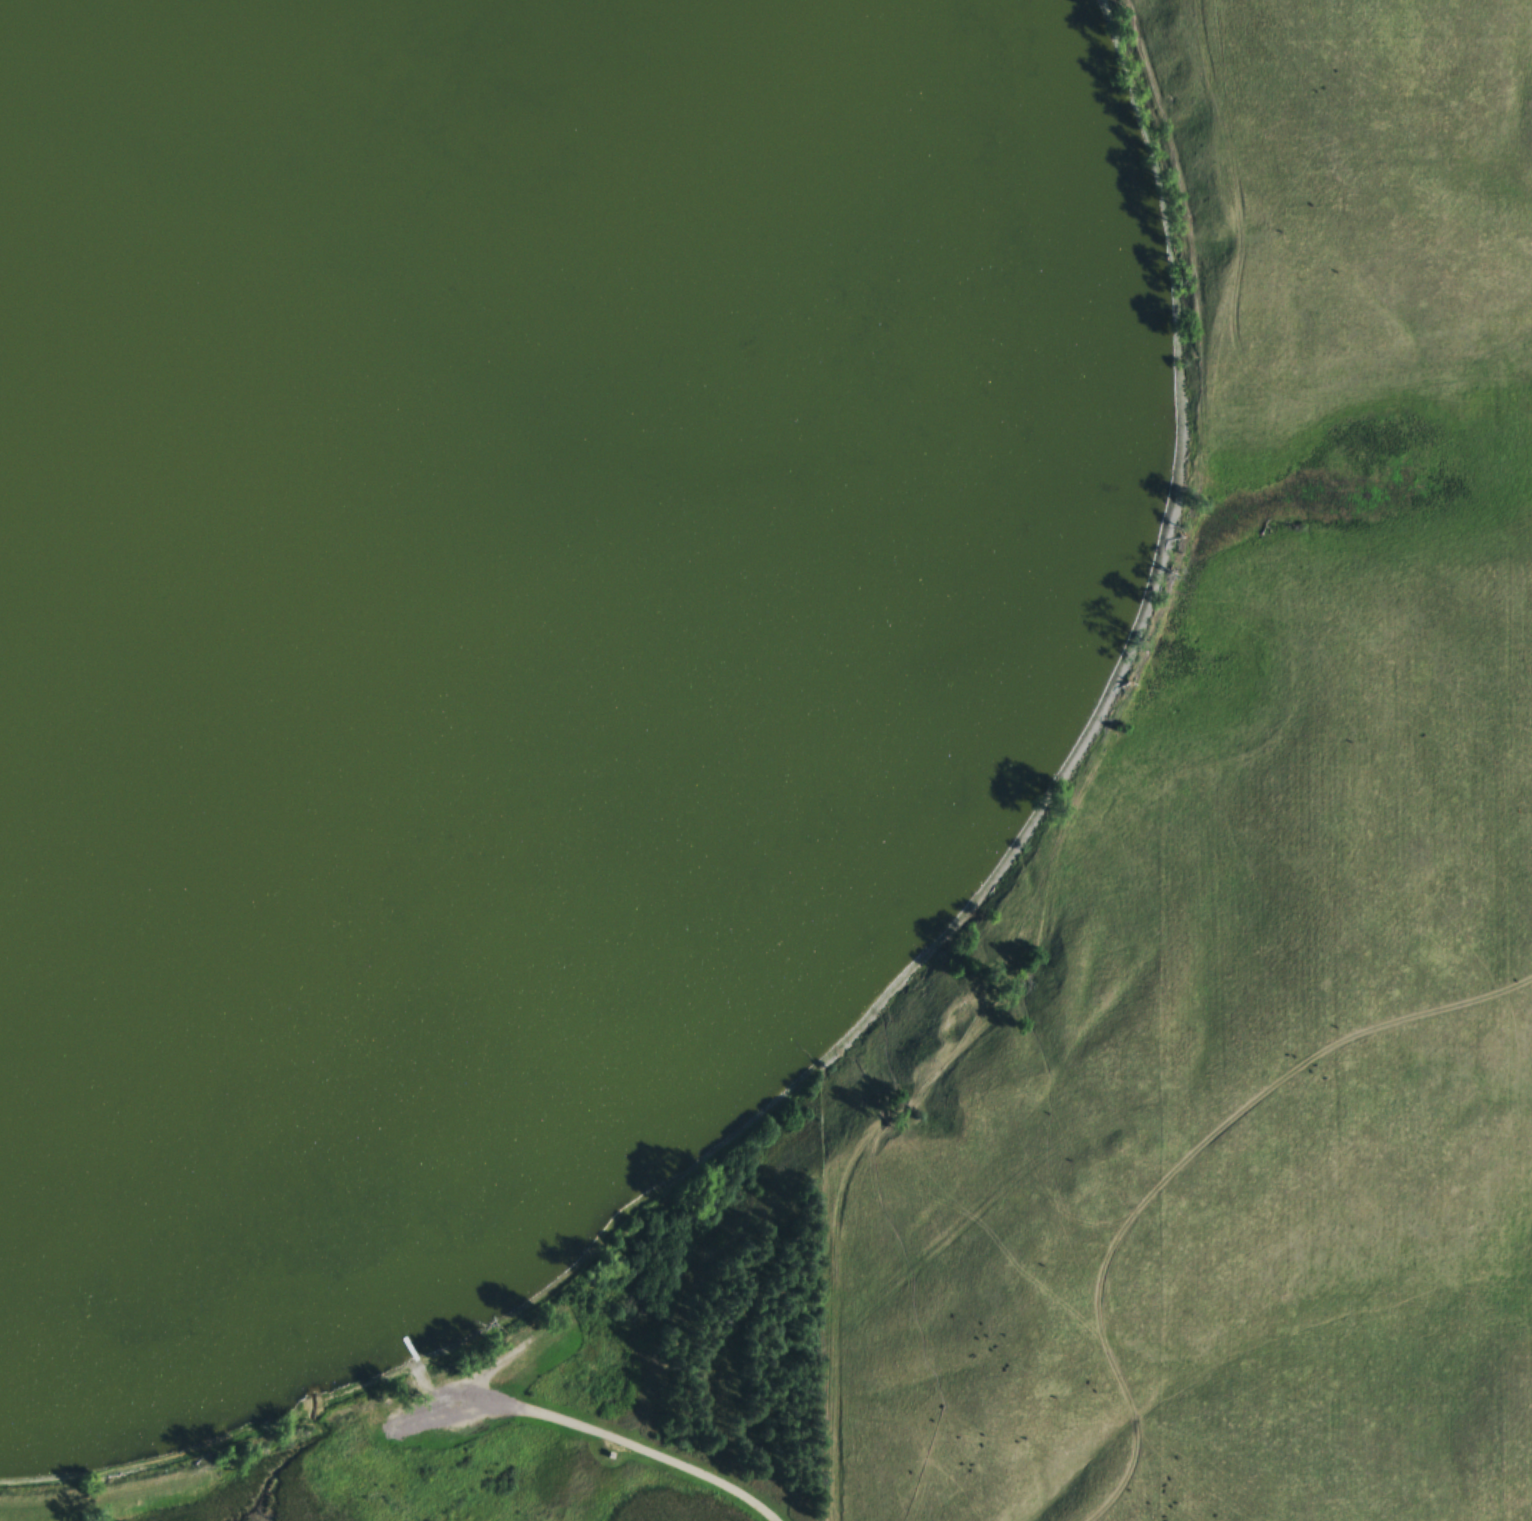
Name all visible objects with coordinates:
river: (15, 338)

